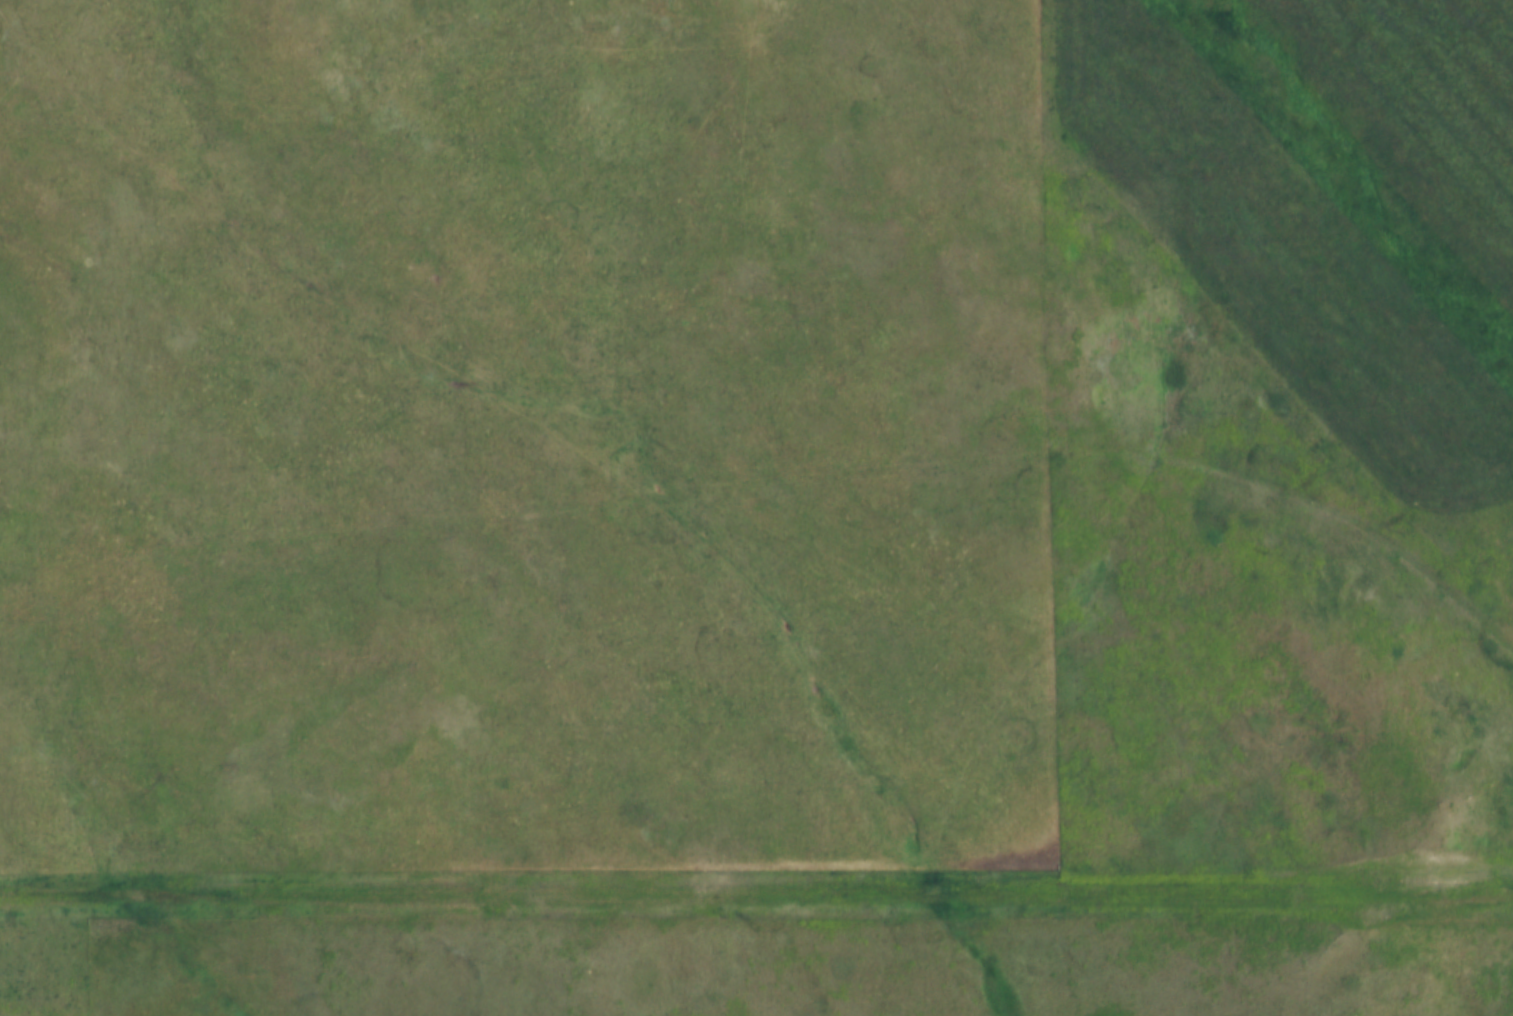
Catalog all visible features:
road: (756, 888)

